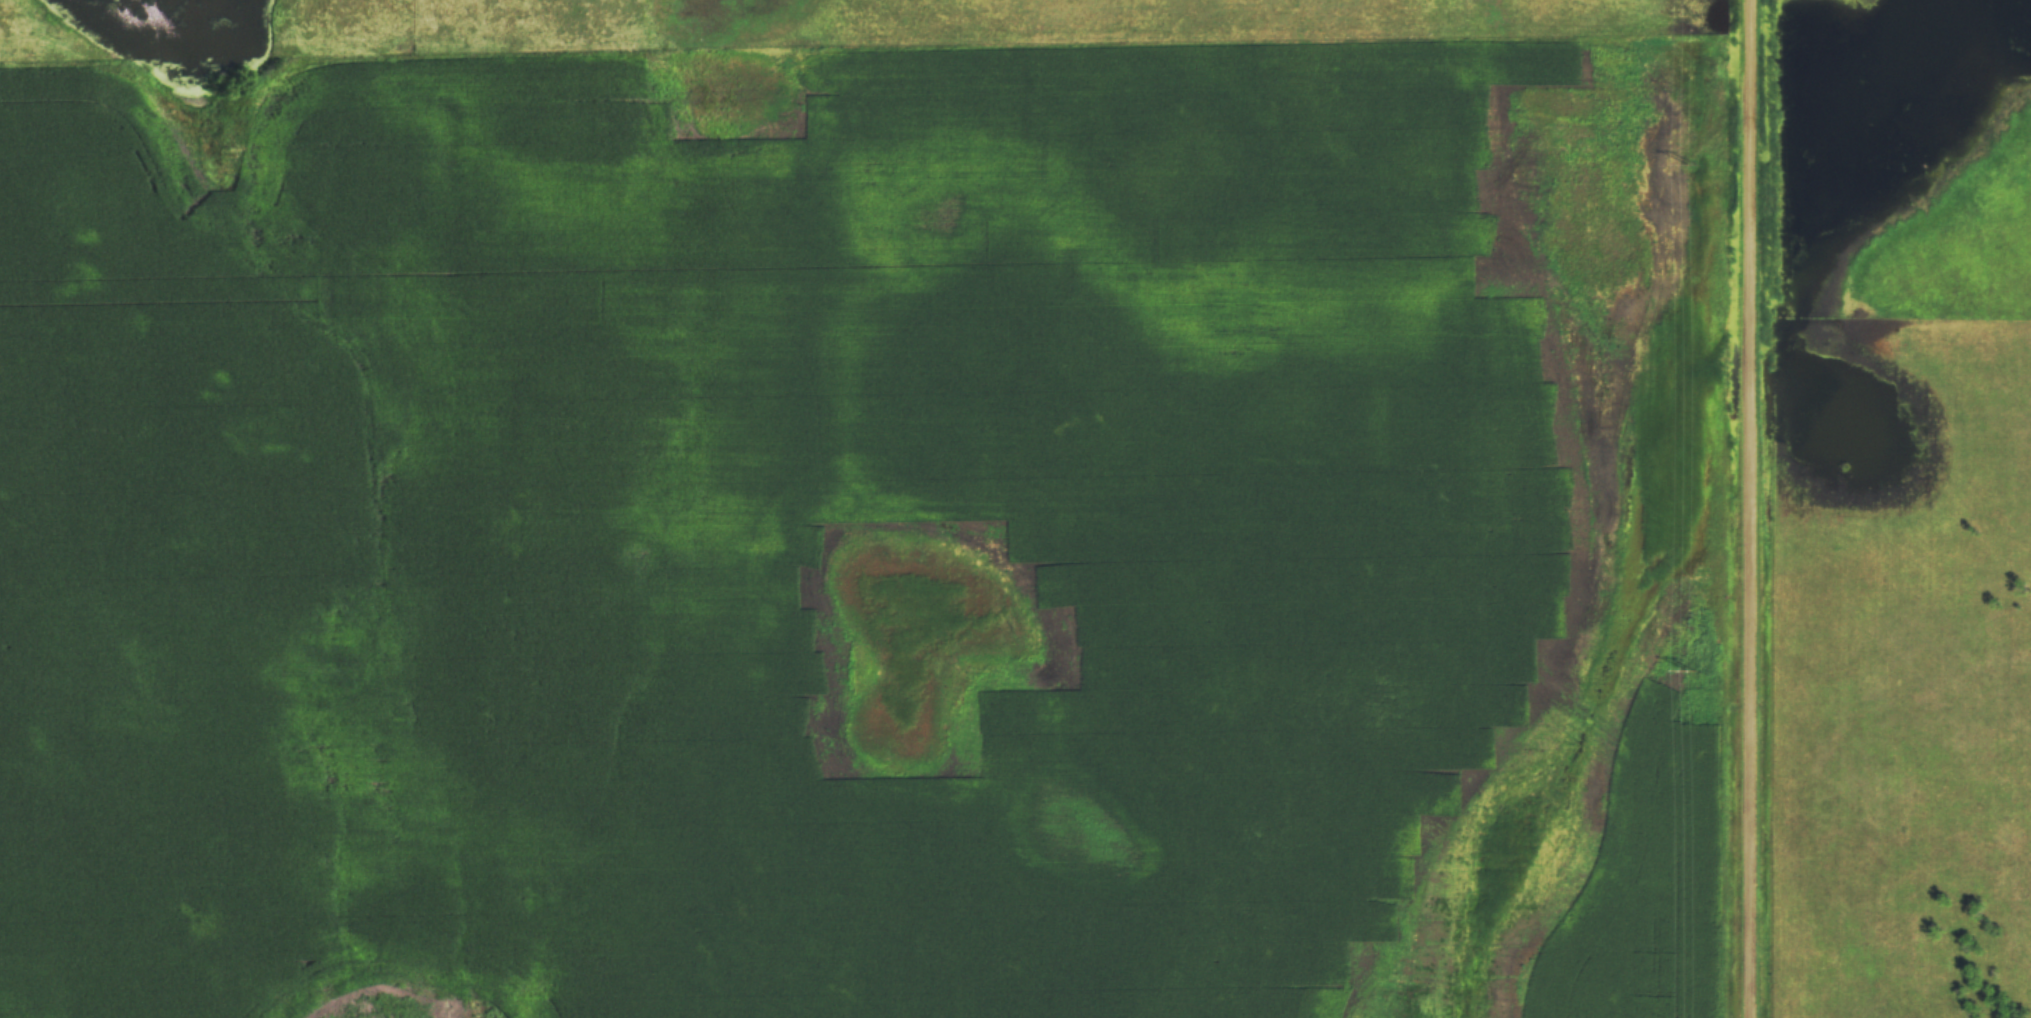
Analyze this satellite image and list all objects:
power tower: (1692, 165)
road: (1727, 509)
power tower: (1692, 669)

